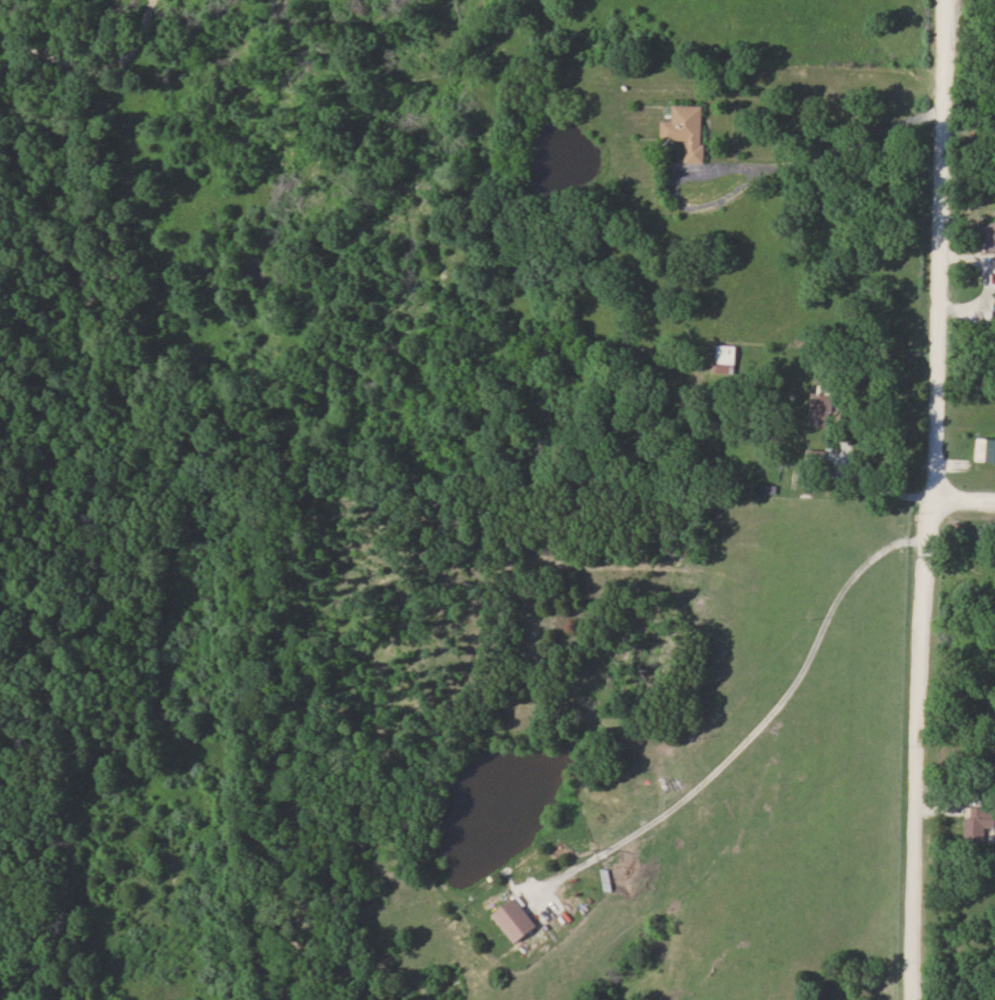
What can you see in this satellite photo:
building: (688, 130)
building: (990, 236)
building: (727, 354)
building: (821, 409)
building: (987, 450)
road: (927, 499)
road: (961, 500)
road: (761, 723)
building: (979, 825)

